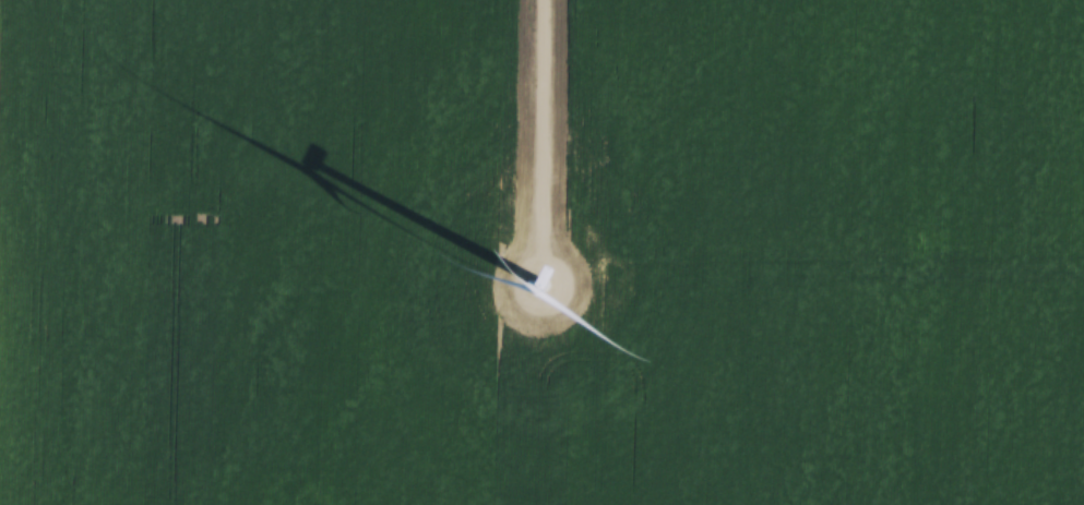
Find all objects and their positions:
wind turbine: (517, 286)

